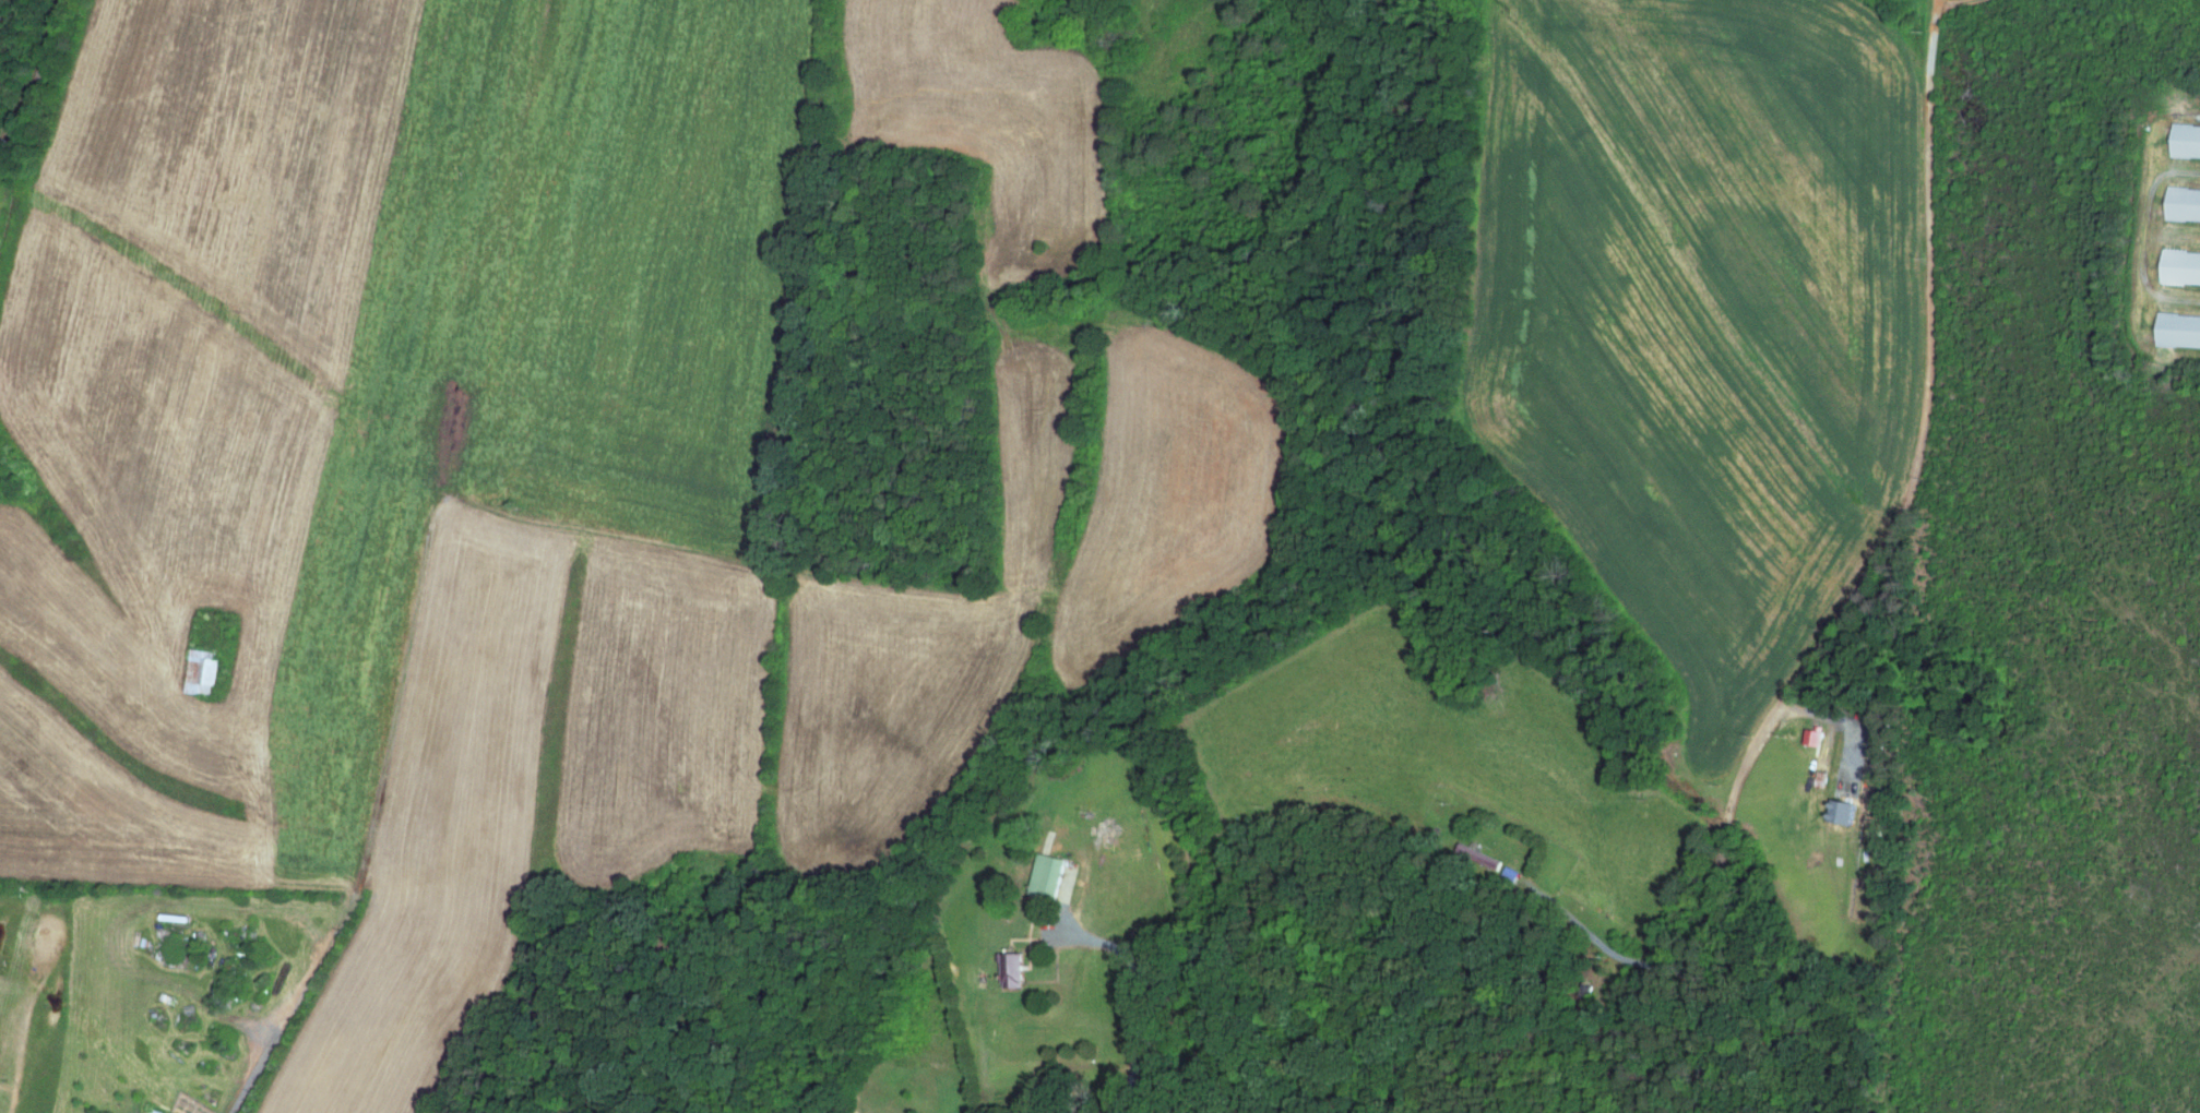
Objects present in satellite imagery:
road: (21, 46)
building: (2183, 141)
building: (2180, 204)
building: (2178, 267)
building: (2176, 331)
road: (481, 505)
road: (1866, 574)
building: (199, 670)
building: (1809, 737)
building: (1475, 858)
building: (1043, 876)
road: (1612, 949)
building: (1008, 969)
road: (1133, 988)

